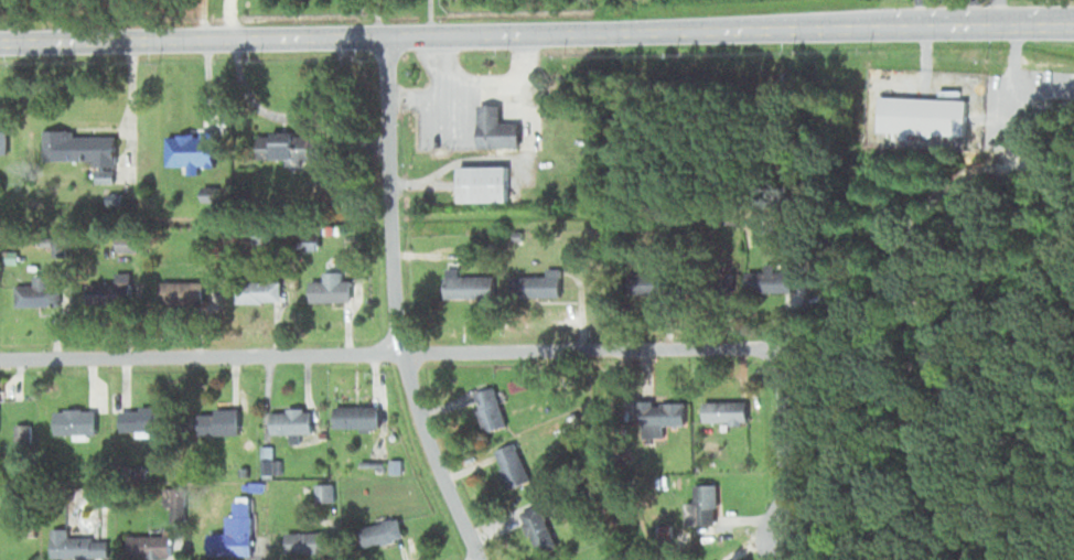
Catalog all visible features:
road: (1039, 17)
road: (226, 19)
road: (1039, 19)
road: (502, 33)
building: (921, 115)
building: (494, 128)
building: (2, 142)
building: (289, 146)
building: (77, 147)
building: (190, 150)
building: (481, 183)
building: (125, 244)
building: (55, 248)
building: (767, 280)
building: (466, 284)
building: (536, 284)
building: (649, 286)
building: (332, 287)
building: (256, 291)
building: (35, 292)
building: (106, 292)
building: (180, 292)
road: (397, 305)
road: (491, 353)
building: (722, 409)
building: (488, 412)
building: (355, 414)
building: (141, 418)
building: (662, 418)
building: (216, 420)
building: (289, 420)
building: (73, 421)
building: (20, 432)
building: (511, 464)
building: (322, 492)
building: (700, 504)
building: (232, 531)
building: (379, 531)
building: (305, 541)
building: (147, 543)
building: (77, 545)

